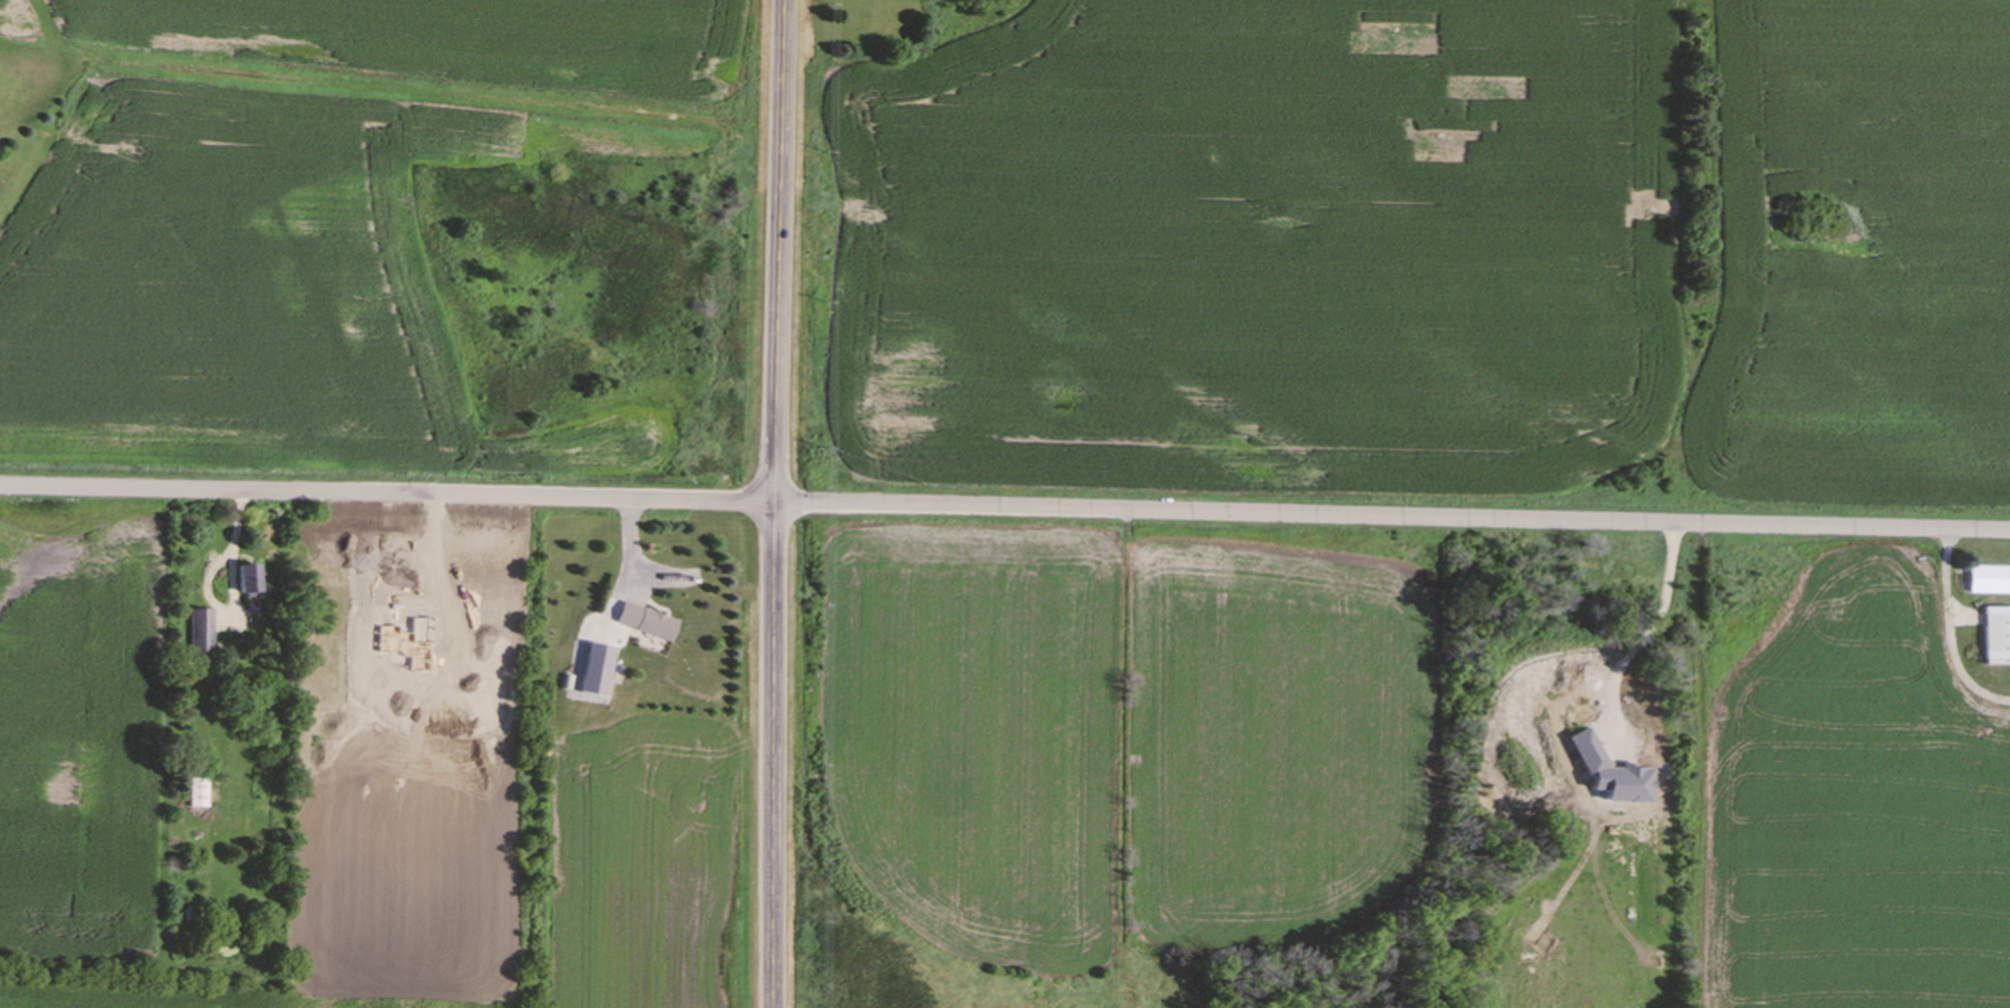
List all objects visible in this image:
crop: (299, 227)
crop: (1433, 246)
building: (768, 431)
road: (770, 503)
road: (1004, 510)
road: (231, 561)
road: (629, 565)
building: (243, 580)
building: (1988, 581)
road: (1659, 621)
building: (641, 623)
building: (199, 632)
building: (1995, 637)
crop: (1137, 729)
building: (196, 794)
crop: (1859, 798)

